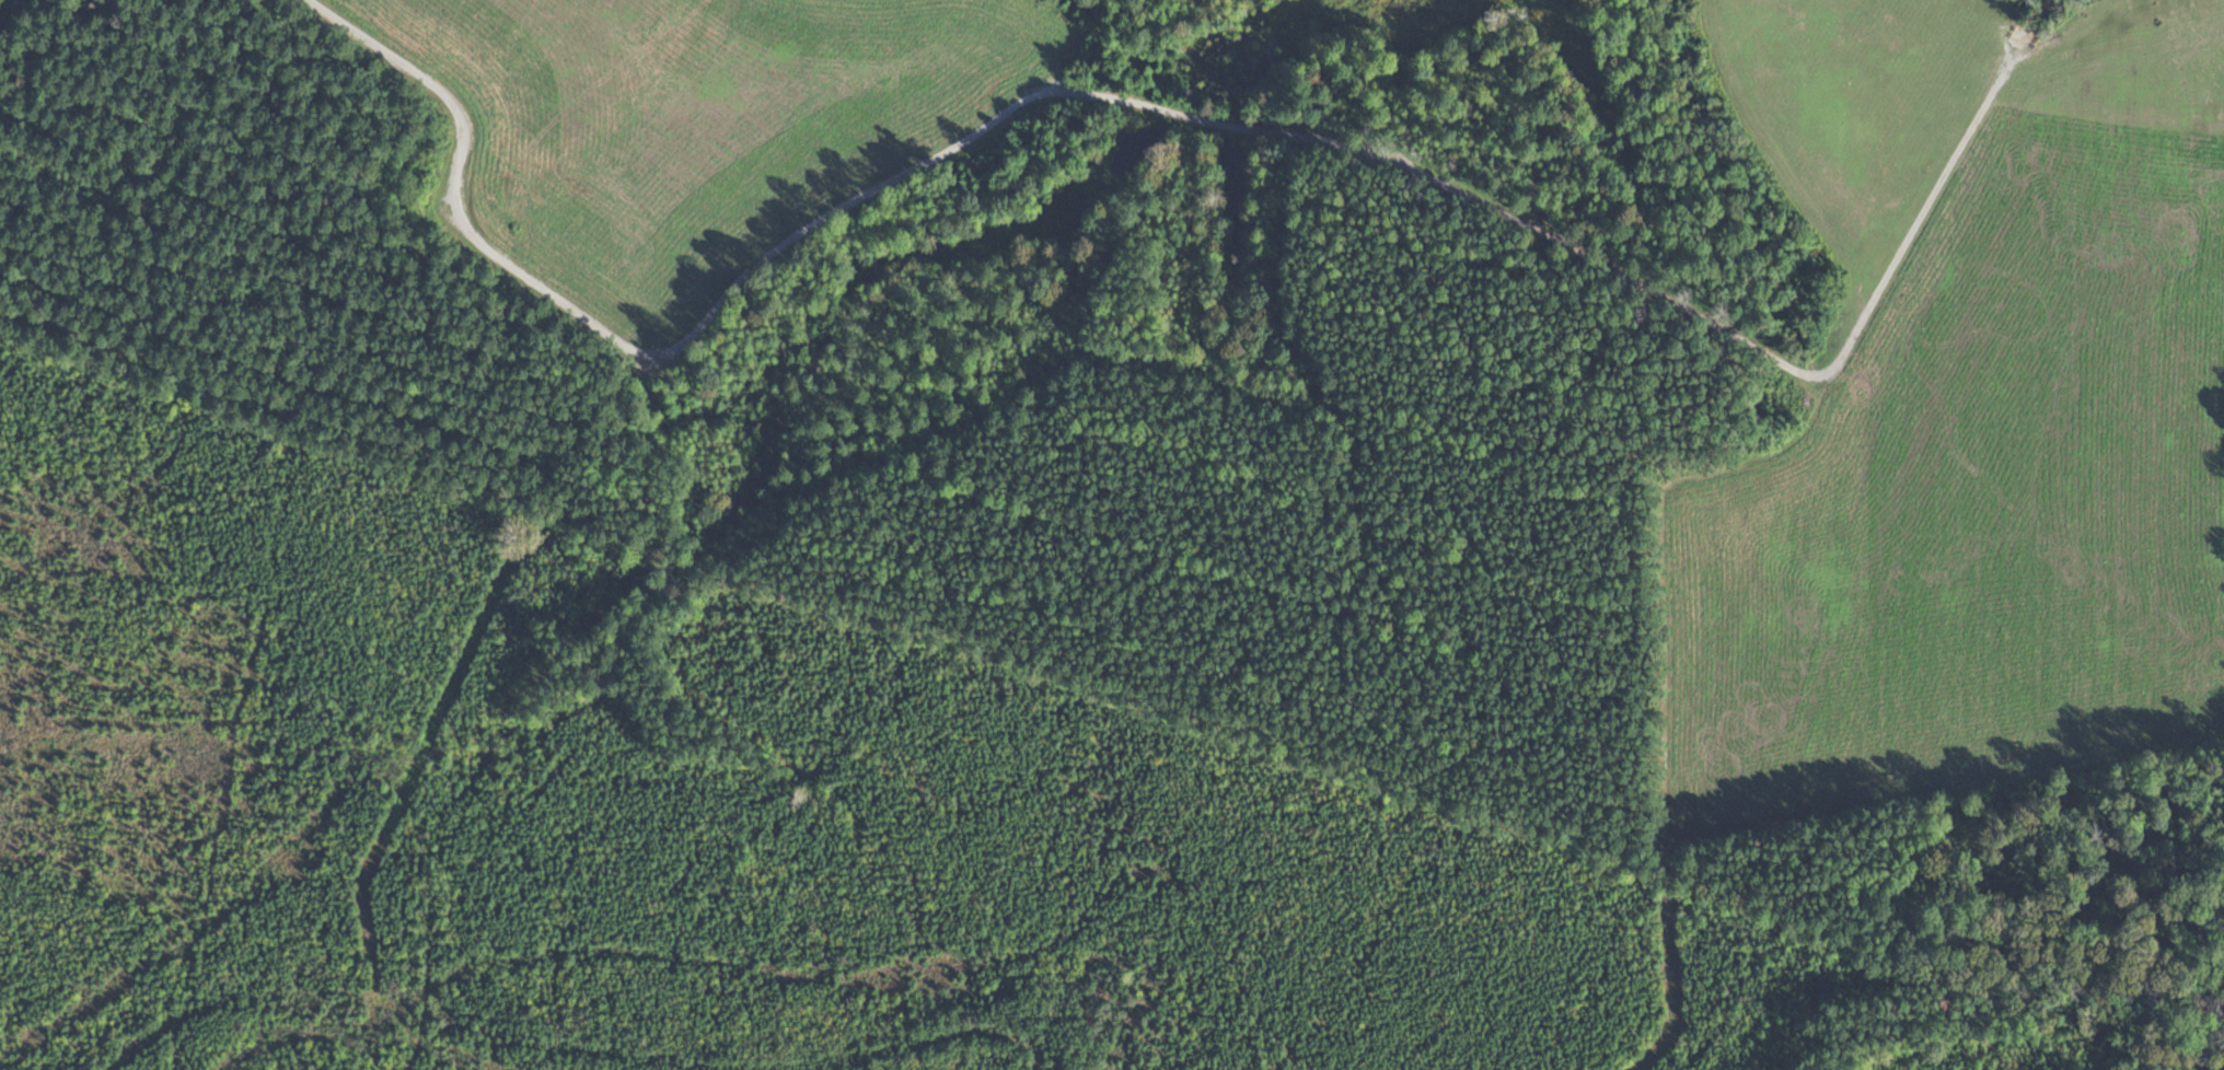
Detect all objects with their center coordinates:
park: (1309, 377)
park: (753, 821)

